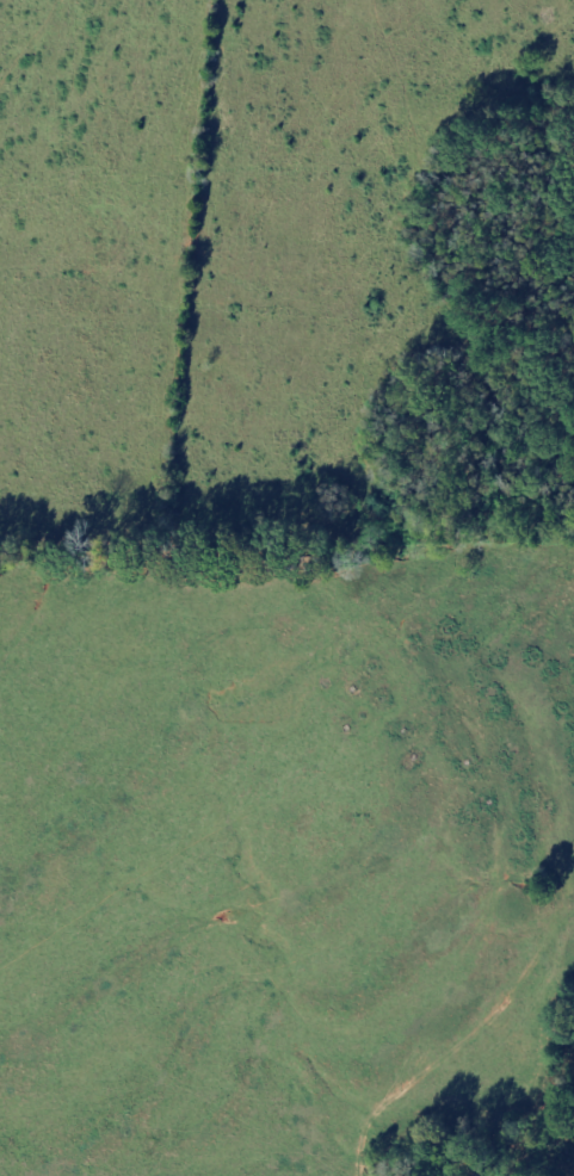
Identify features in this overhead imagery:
road: (4, 338)

